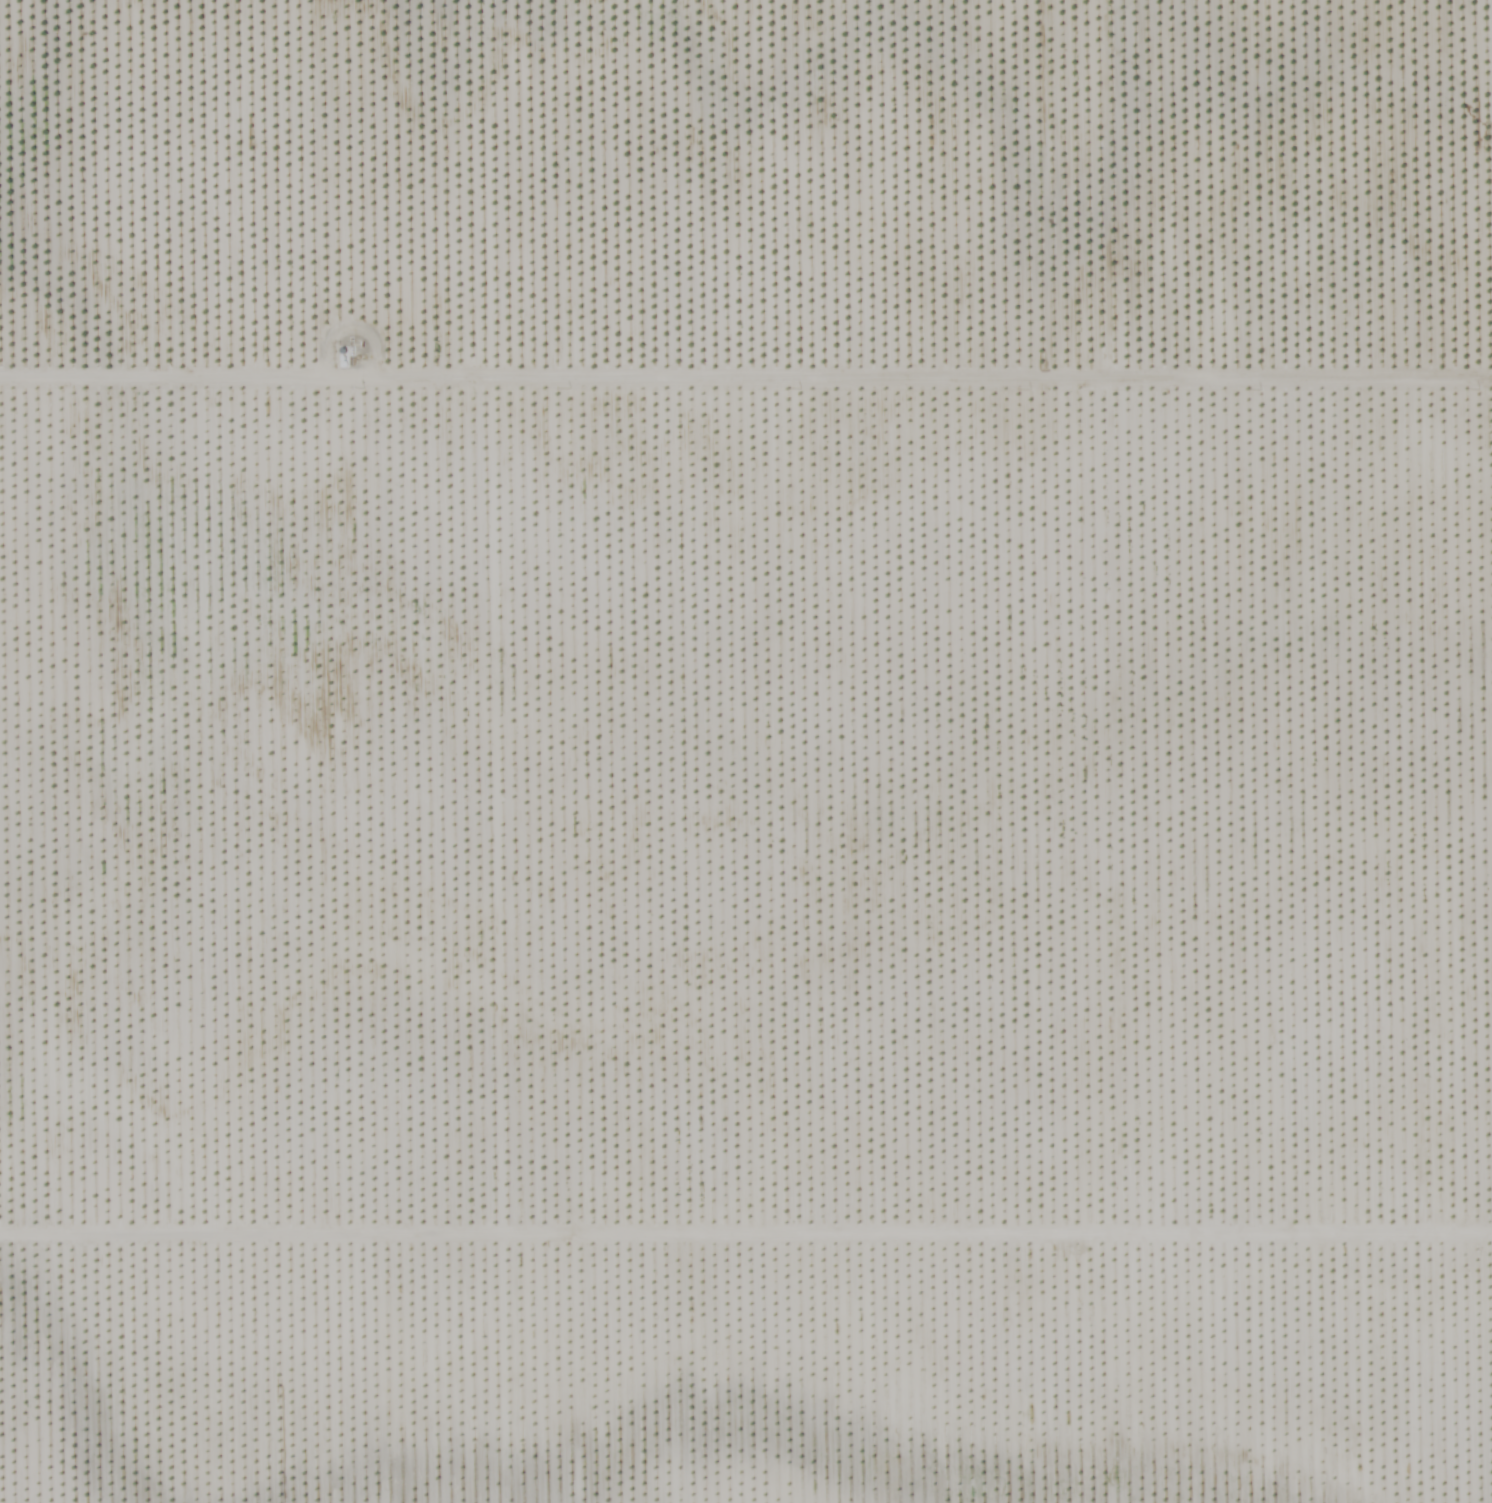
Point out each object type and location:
crop: (728, 606)

